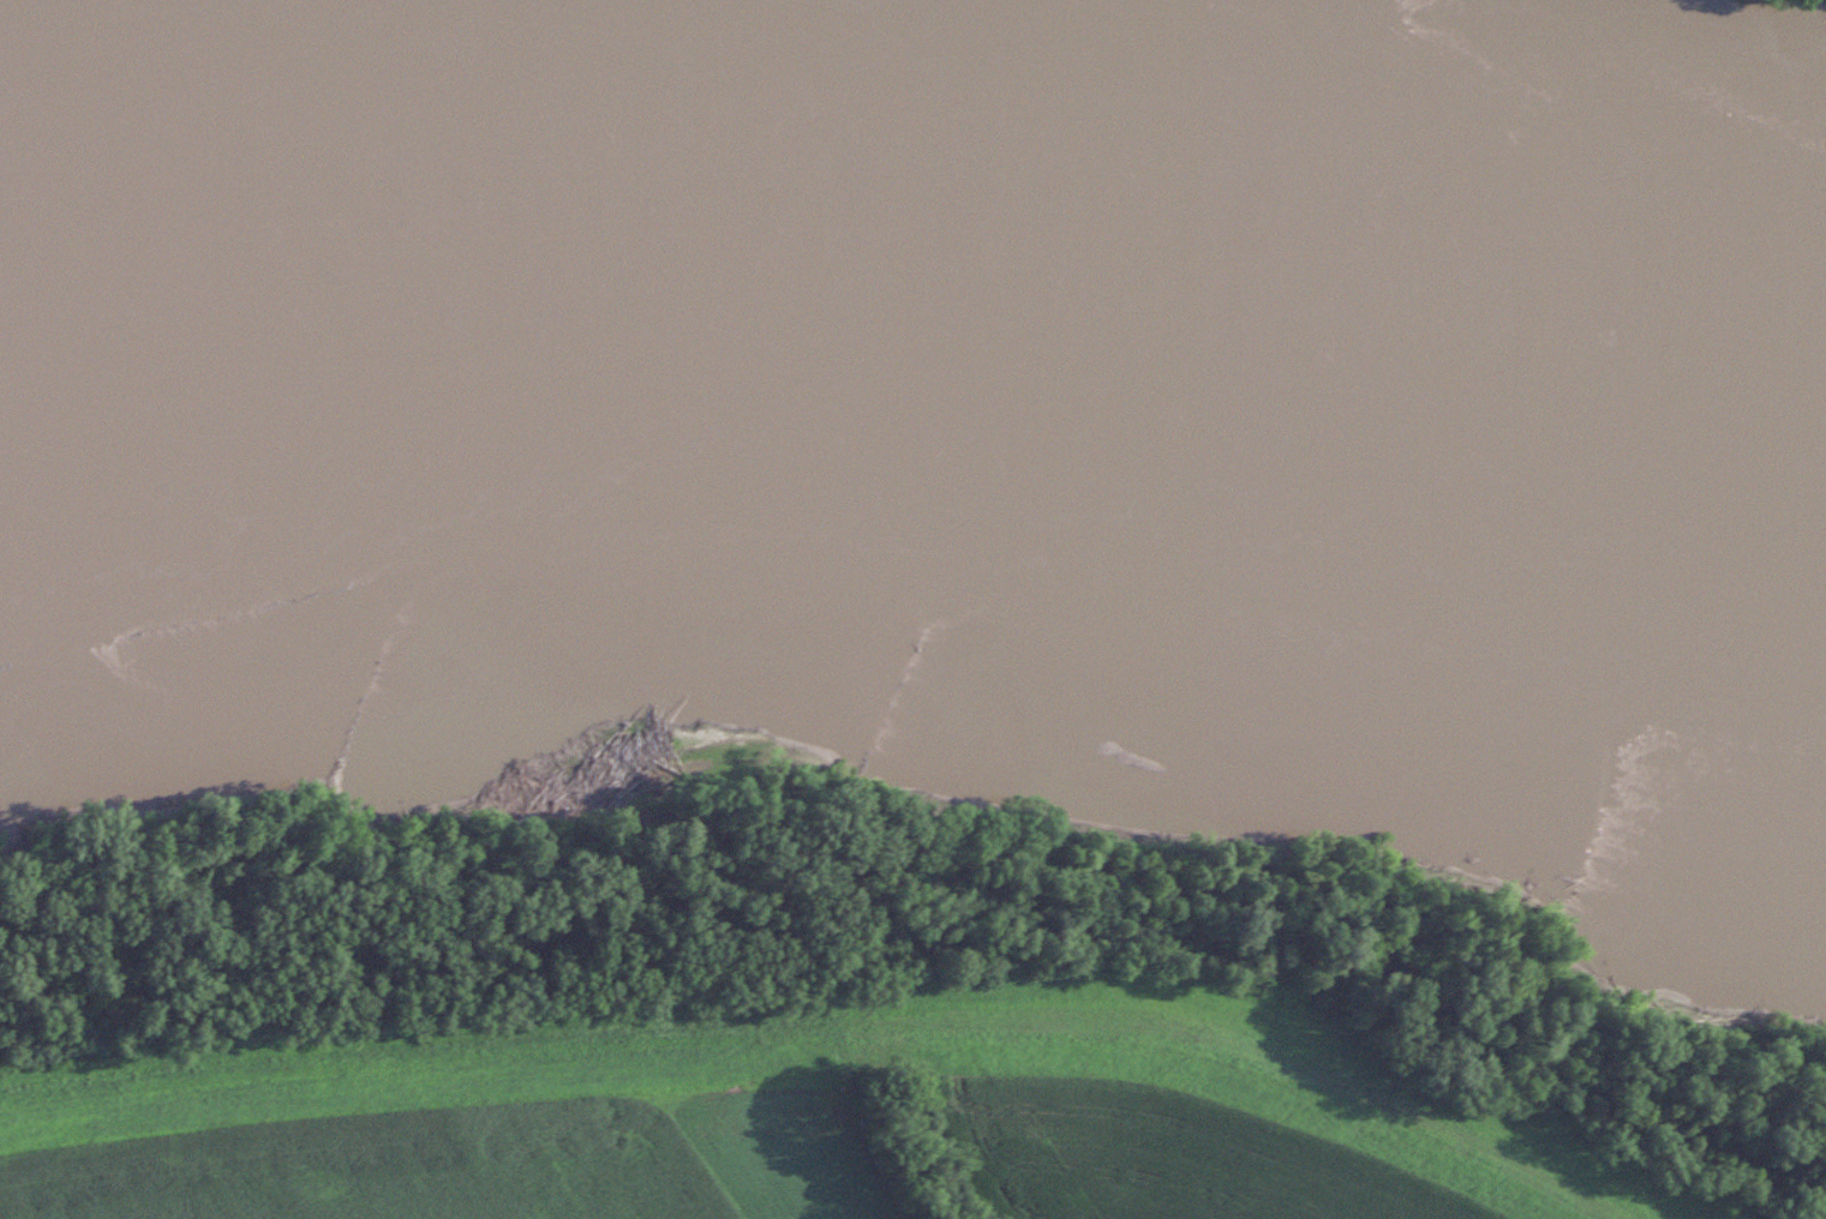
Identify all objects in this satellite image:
river: (910, 392)

